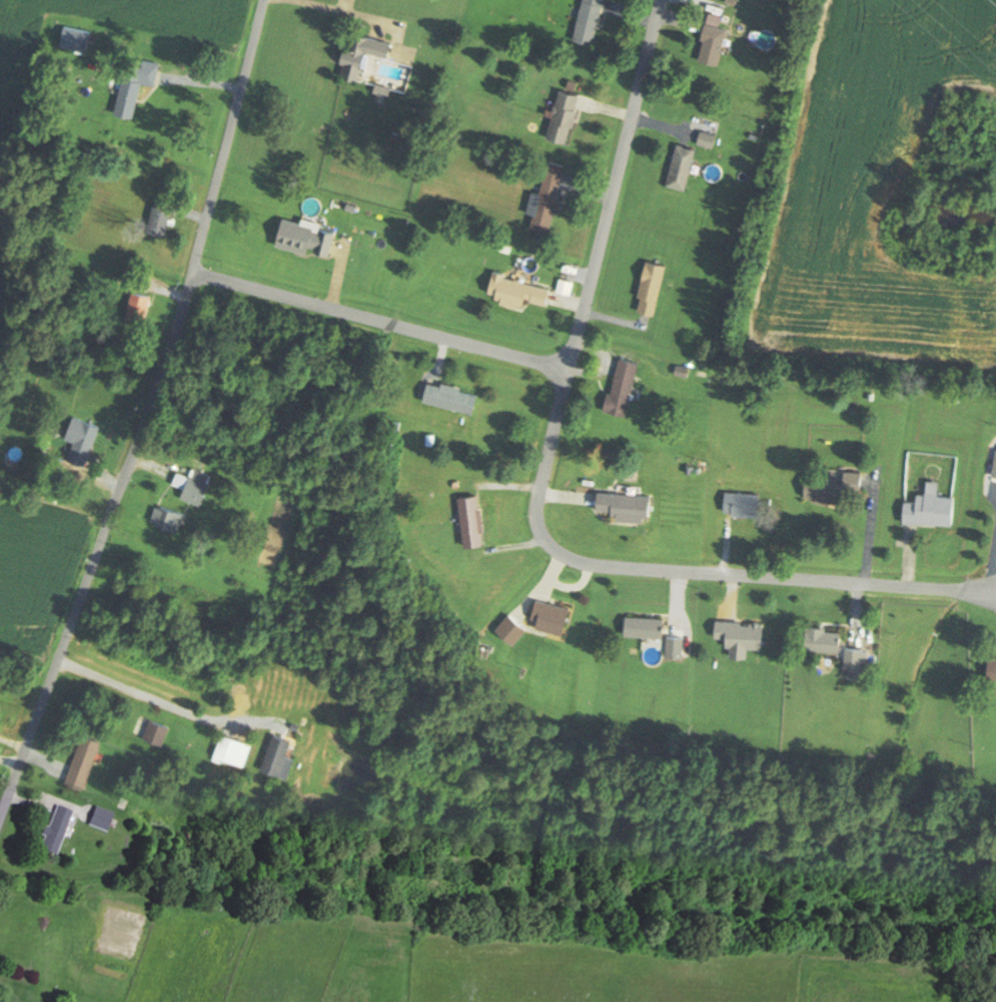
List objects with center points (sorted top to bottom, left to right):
building: (590, 20)
building: (77, 40)
building: (714, 40)
building: (377, 46)
building: (355, 66)
building: (136, 83)
building: (566, 115)
building: (683, 166)
road: (617, 184)
building: (547, 200)
building: (162, 218)
building: (307, 238)
building: (653, 287)
building: (518, 290)
building: (140, 307)
road: (382, 319)
building: (624, 386)
building: (453, 396)
road: (149, 418)
building: (83, 441)
building: (195, 484)
building: (833, 487)
building: (745, 504)
building: (628, 506)
building: (934, 509)
building: (168, 518)
building: (474, 521)
road: (680, 569)
building: (552, 617)
building: (647, 627)
building: (743, 636)
building: (825, 639)
building: (677, 647)
building: (856, 659)
building: (993, 669)
building: (158, 732)
building: (229, 749)
building: (281, 756)
building: (85, 761)
building: (103, 819)
building: (58, 830)

